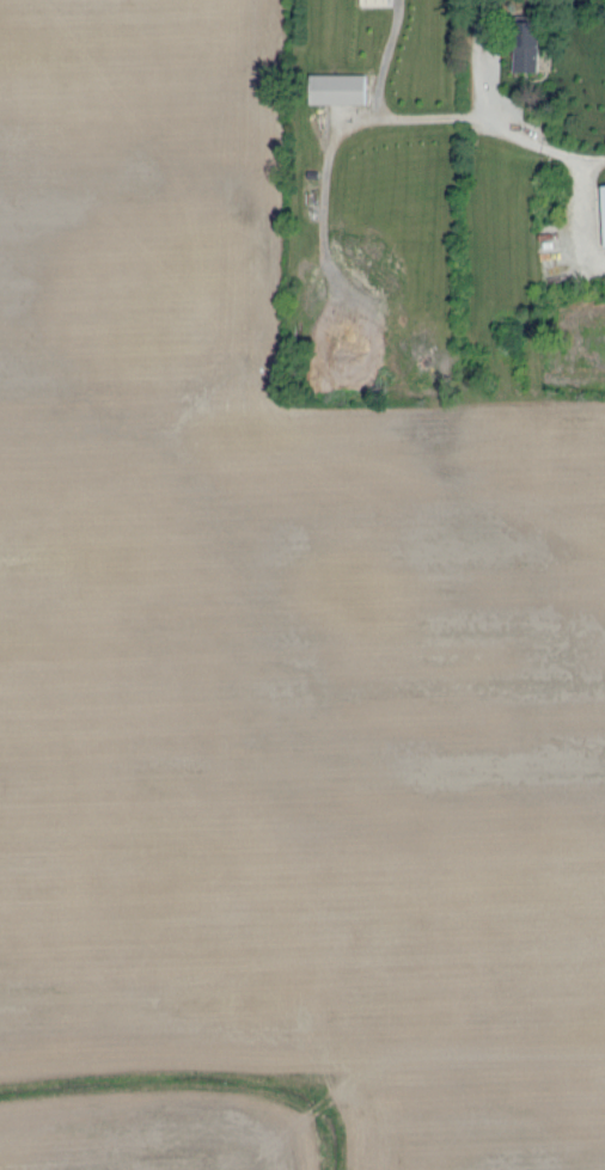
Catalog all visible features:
building: (379, 1)
building: (528, 38)
road: (84, 53)
building: (343, 87)
road: (485, 103)
road: (381, 106)
building: (604, 190)
building: (555, 233)
road: (165, 249)
road: (298, 529)
road: (340, 722)
crop: (316, 1122)

